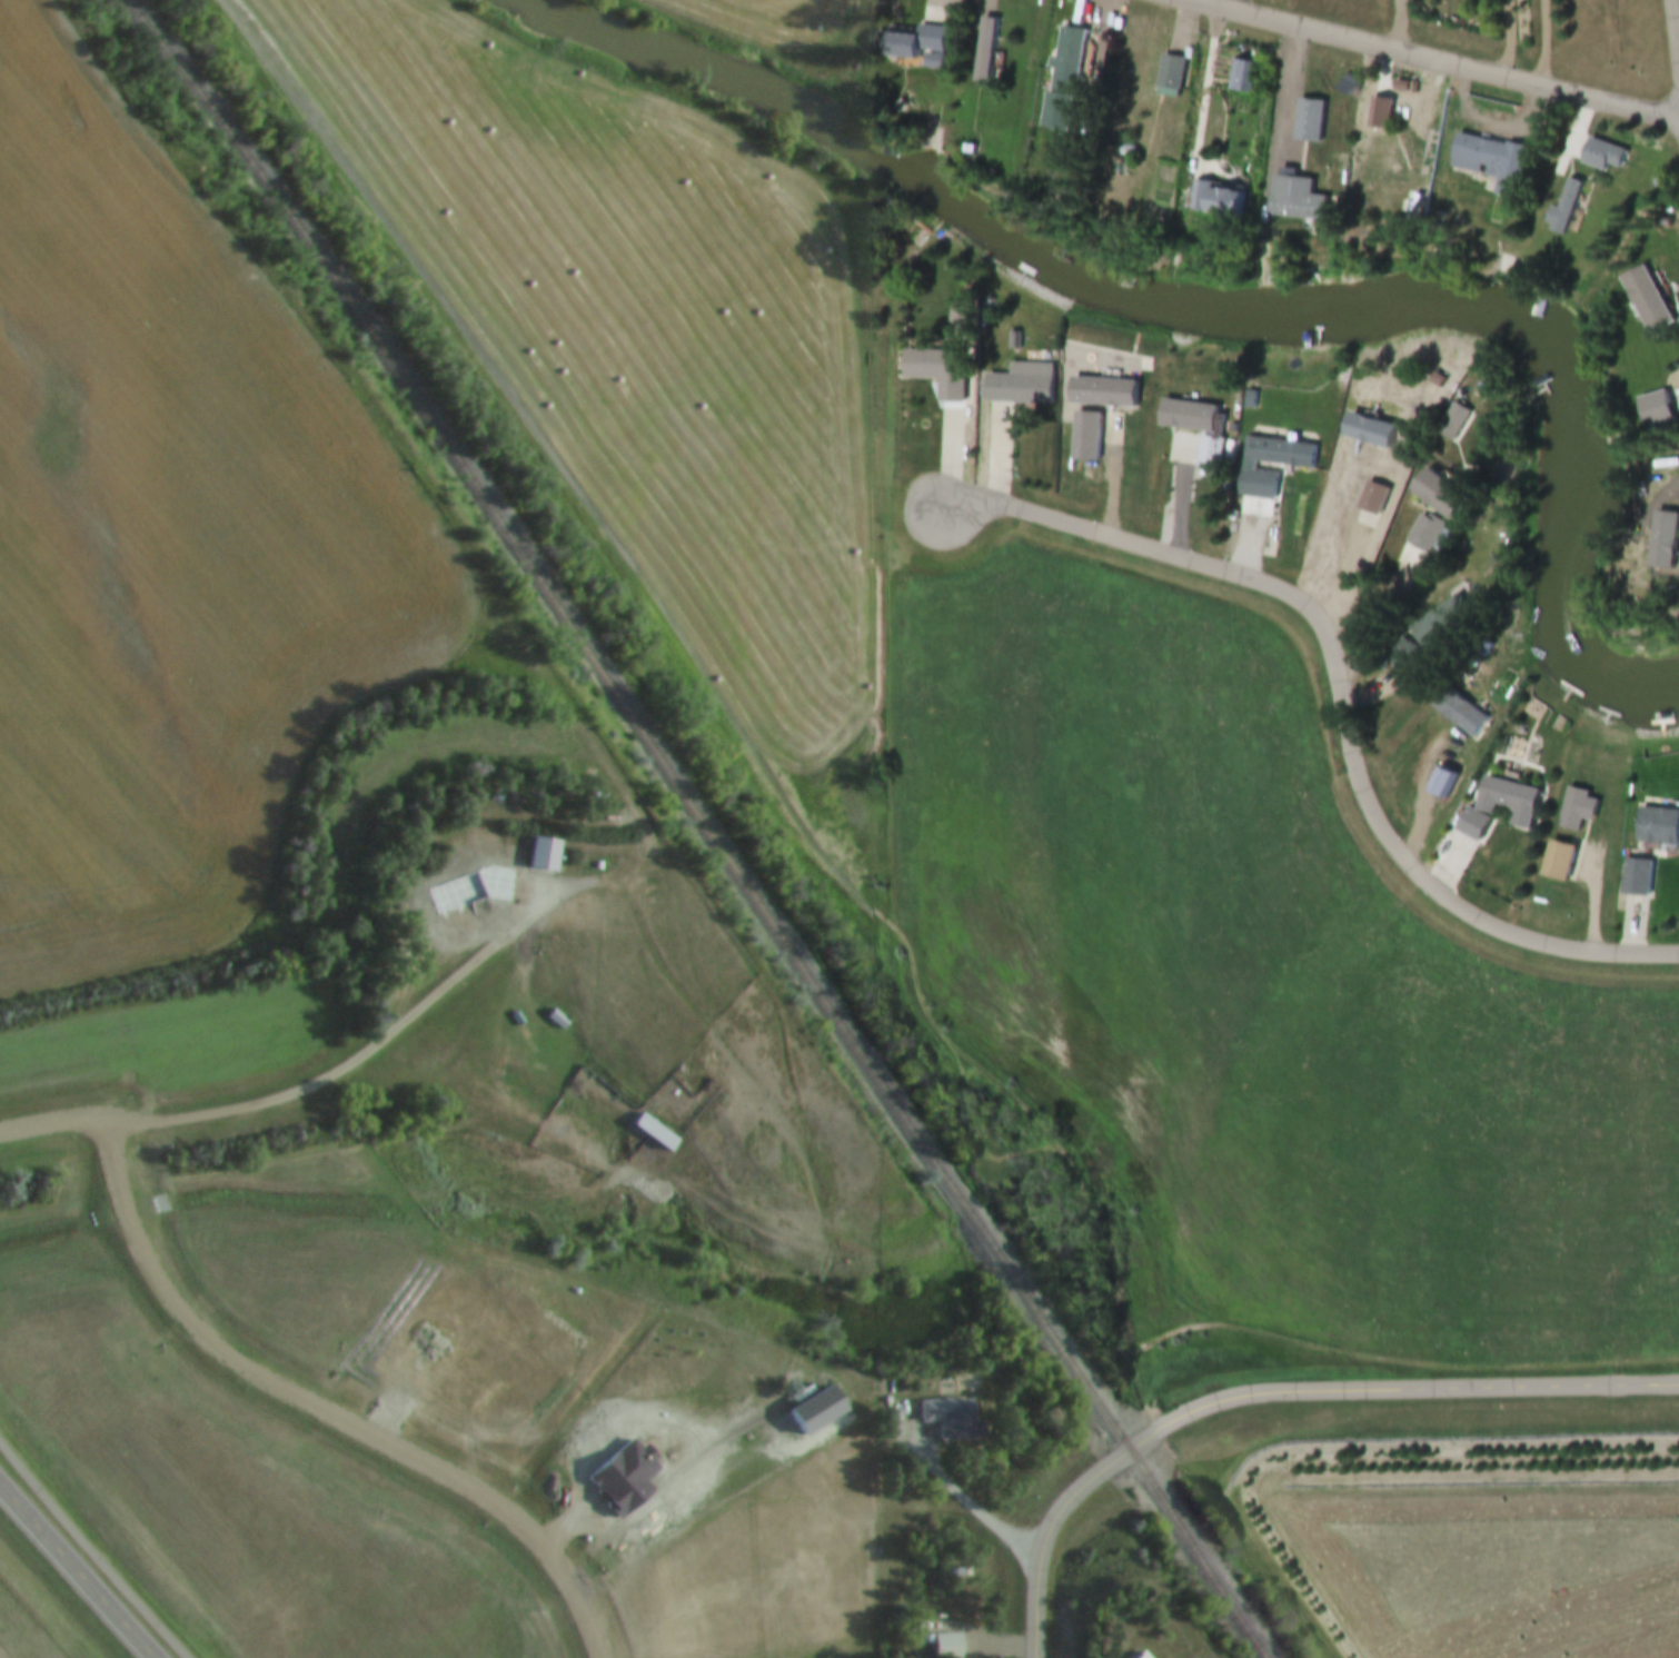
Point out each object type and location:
road: (1678, 4)
building: (1079, 11)
road: (1399, 28)
road: (1512, 41)
building: (916, 43)
road: (1549, 46)
building: (985, 50)
road: (1428, 61)
building: (1150, 76)
building: (1240, 78)
building: (1061, 79)
road: (1202, 108)
road: (1278, 117)
road: (1499, 121)
building: (1379, 135)
road: (1364, 140)
building: (1599, 158)
building: (1489, 163)
building: (1286, 198)
building: (1218, 203)
building: (1560, 209)
building: (1641, 301)
building: (933, 373)
building: (1016, 386)
building: (1649, 410)
building: (1179, 418)
building: (1451, 424)
building: (1086, 430)
building: (1365, 433)
building: (1205, 455)
building: (1268, 466)
building: (1432, 494)
building: (1370, 499)
building: (1424, 530)
building: (1359, 565)
building: (1433, 623)
road: (1343, 693)
building: (1454, 713)
building: (1438, 785)
building: (1517, 810)
building: (1573, 810)
railway: (704, 825)
building: (1655, 828)
building: (548, 854)
building: (1554, 862)
building: (1633, 878)
building: (509, 887)
road: (294, 1094)
building: (659, 1132)
road: (1274, 1393)
building: (957, 1419)
road: (965, 1497)
road: (92, 1550)
road: (77, 1571)
building: (947, 1647)
building: (1134, 1656)

